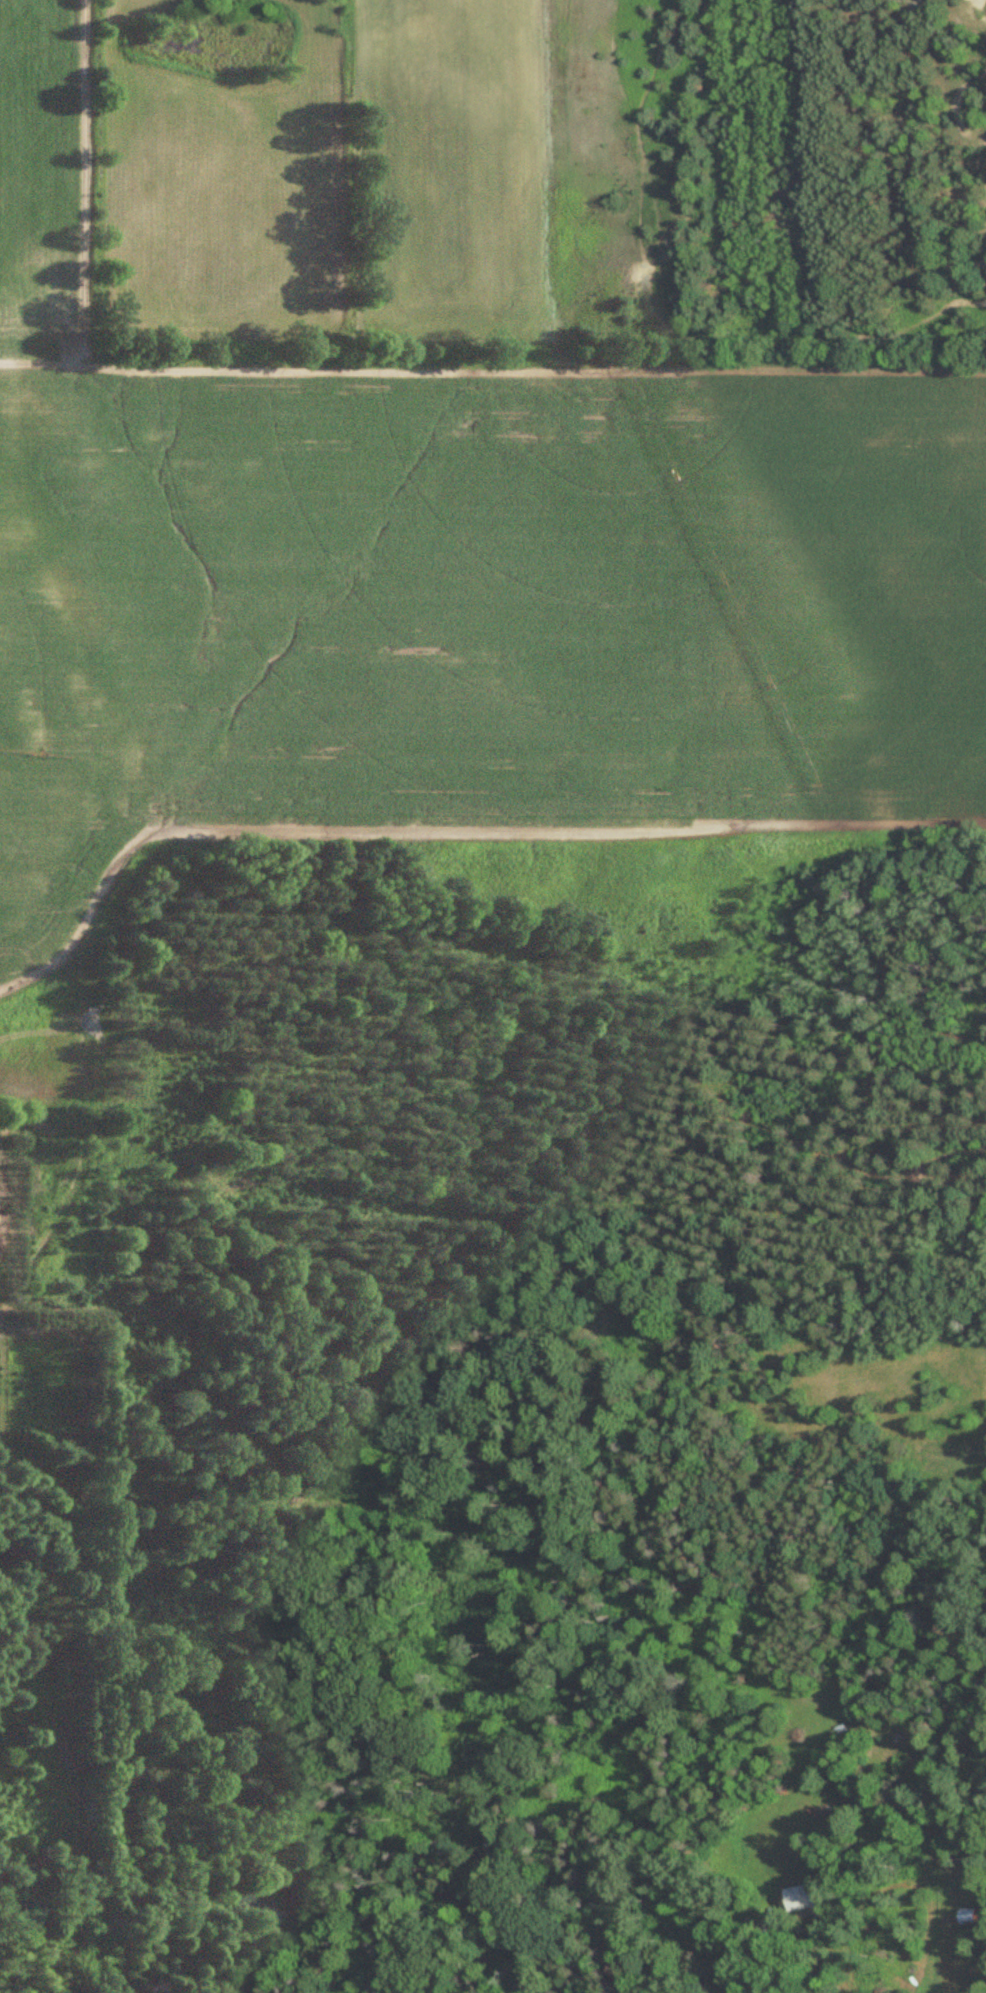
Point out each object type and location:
building: (796, 1898)
building: (963, 1918)
road: (789, 1966)

